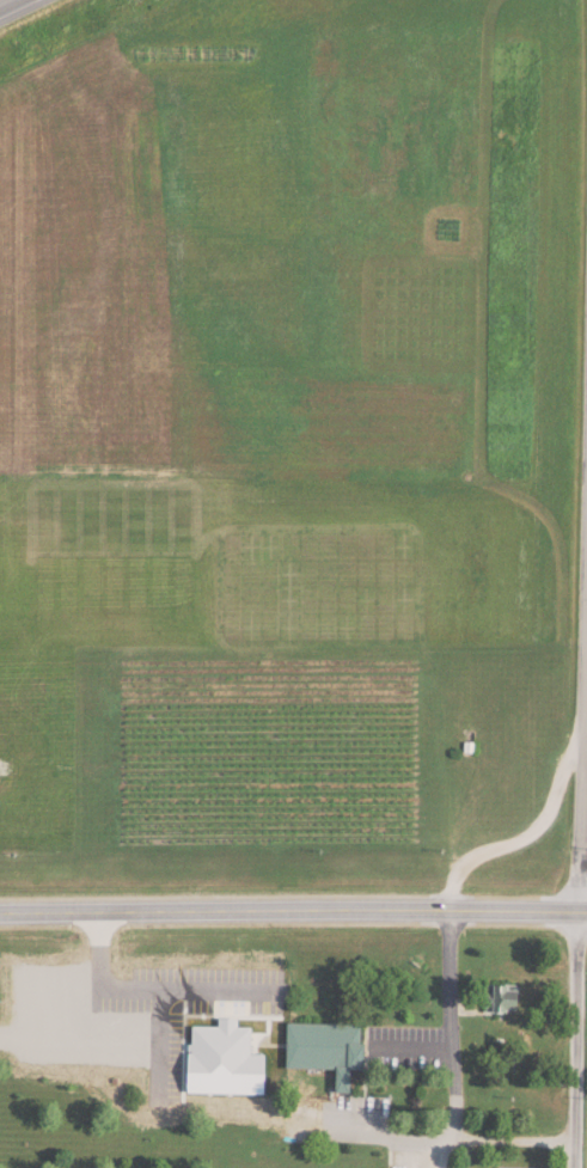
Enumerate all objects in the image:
road: (8, 4)
road: (581, 855)
road: (293, 913)
road: (453, 913)
building: (513, 996)
building: (334, 1047)
road: (502, 1143)
building: (525, 1167)

